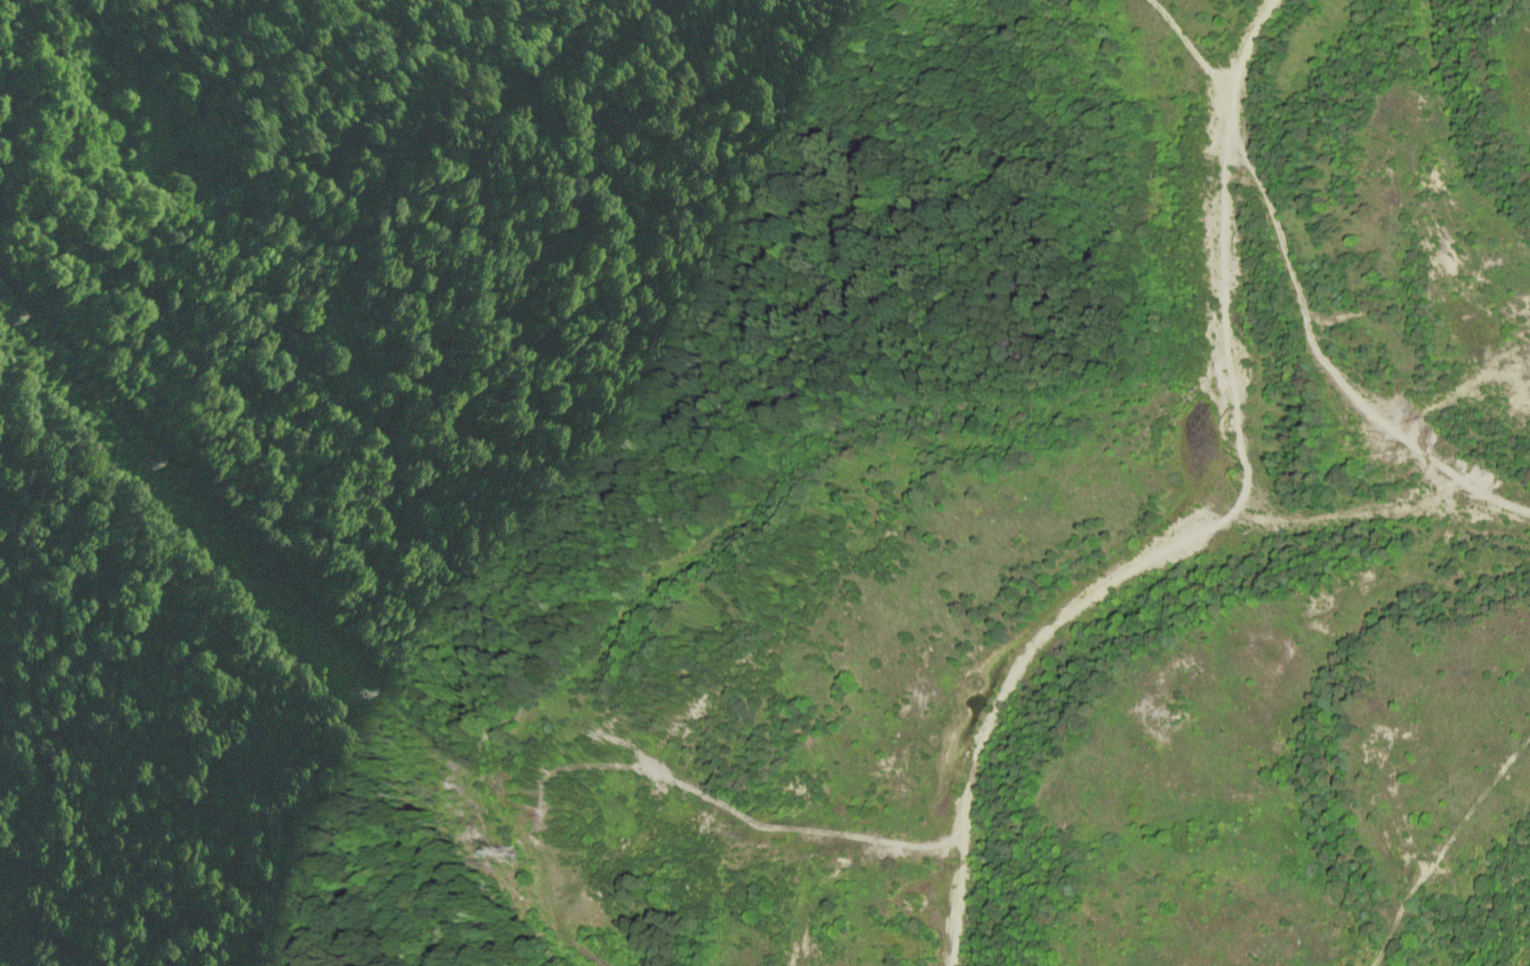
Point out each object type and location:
power tower: (3, 321)
power tower: (138, 468)
power tower: (356, 697)
power tower: (513, 864)

